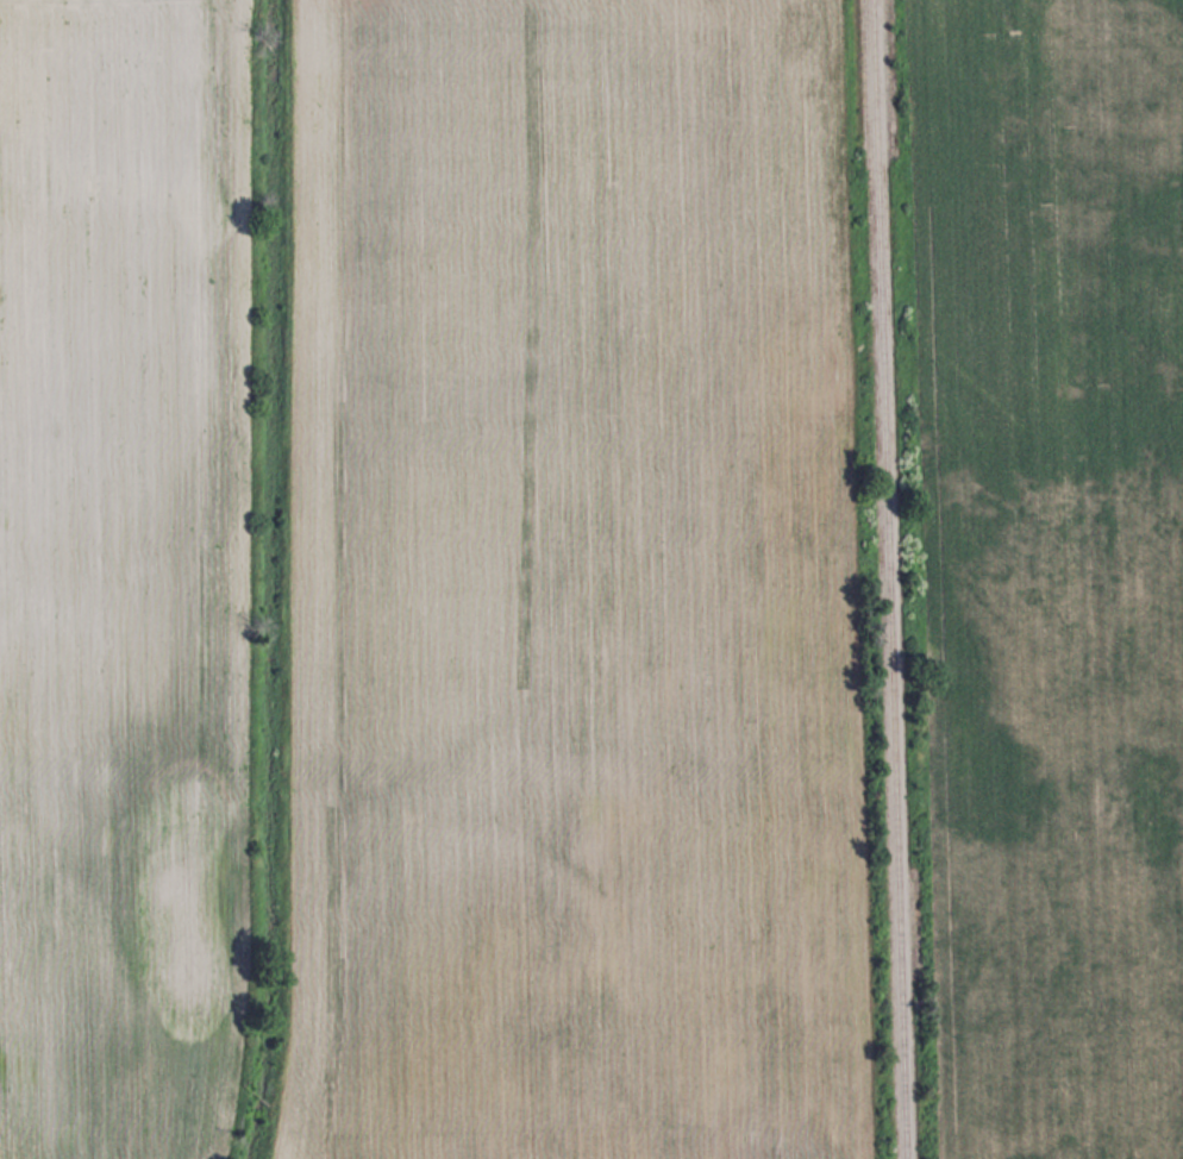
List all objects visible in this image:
railway: (890, 579)

